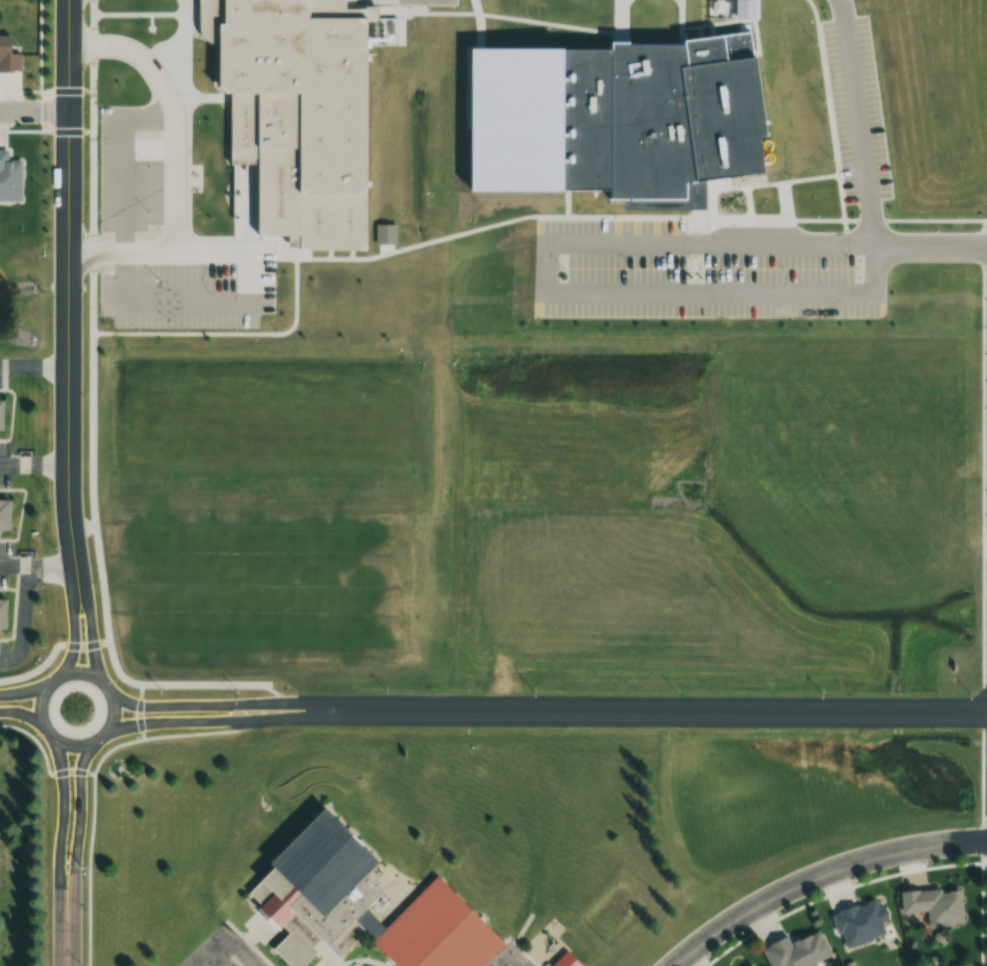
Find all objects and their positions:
building: (8, 57)
road: (64, 69)
road: (32, 110)
parking lot: (850, 112)
building: (288, 115)
building: (711, 115)
road: (850, 123)
building: (503, 130)
building: (613, 132)
road: (172, 160)
road: (706, 246)
road: (59, 247)
road: (926, 248)
road: (546, 270)
parking lot: (691, 274)
road: (730, 296)
road: (28, 367)
building: (0, 416)
road: (28, 465)
road: (57, 466)
building: (3, 514)
road: (34, 566)
building: (2, 613)
road: (24, 621)
road: (83, 625)
road: (67, 629)
road: (21, 690)
road: (40, 693)
road: (212, 711)
road: (654, 711)
road: (18, 718)
road: (212, 722)
road: (54, 833)
road: (71, 833)
park: (21, 849)
road: (817, 873)
building: (933, 905)
building: (353, 907)
park: (615, 909)
building: (859, 922)
street lamp: (85, 942)
road: (63, 945)
road: (509, 948)
building: (796, 951)
building: (195, 953)
road: (220, 955)
road: (242, 955)
parking lot: (231, 960)
parking lot: (503, 961)
building: (561, 963)
building: (749, 965)

